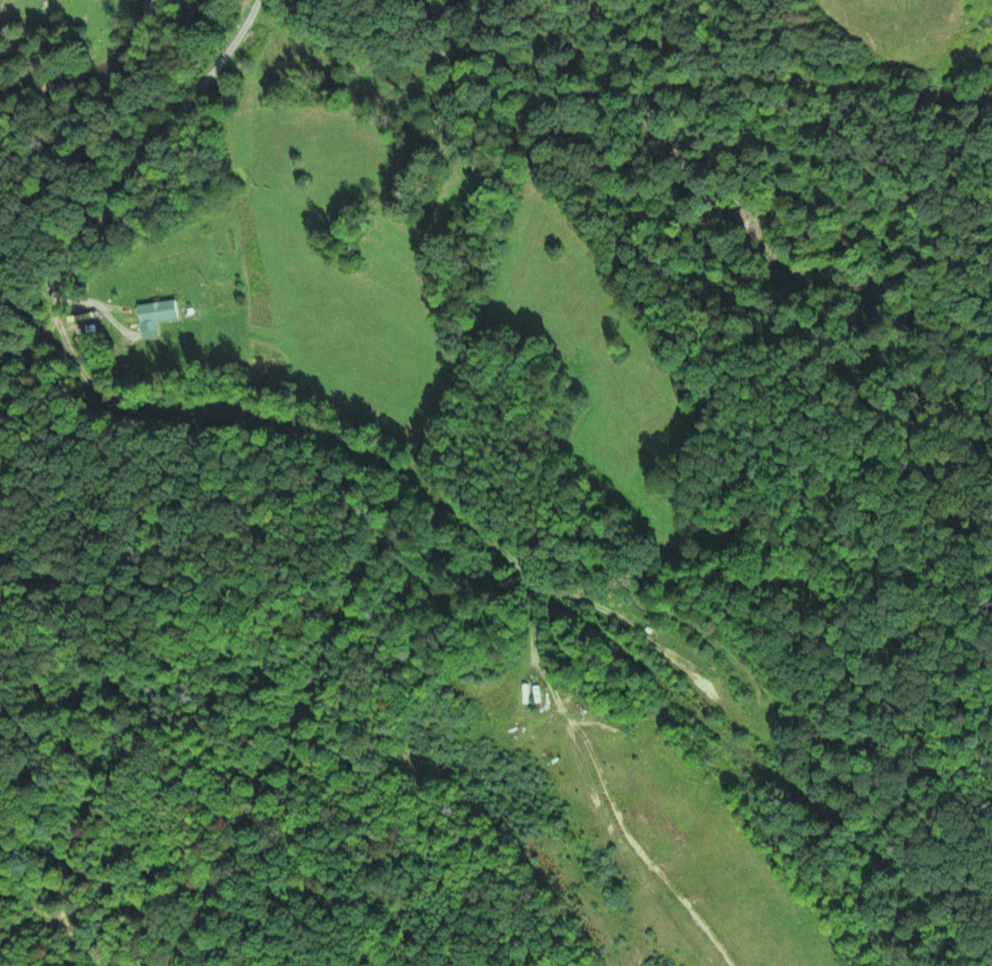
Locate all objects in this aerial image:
building: (159, 312)
road: (66, 337)

